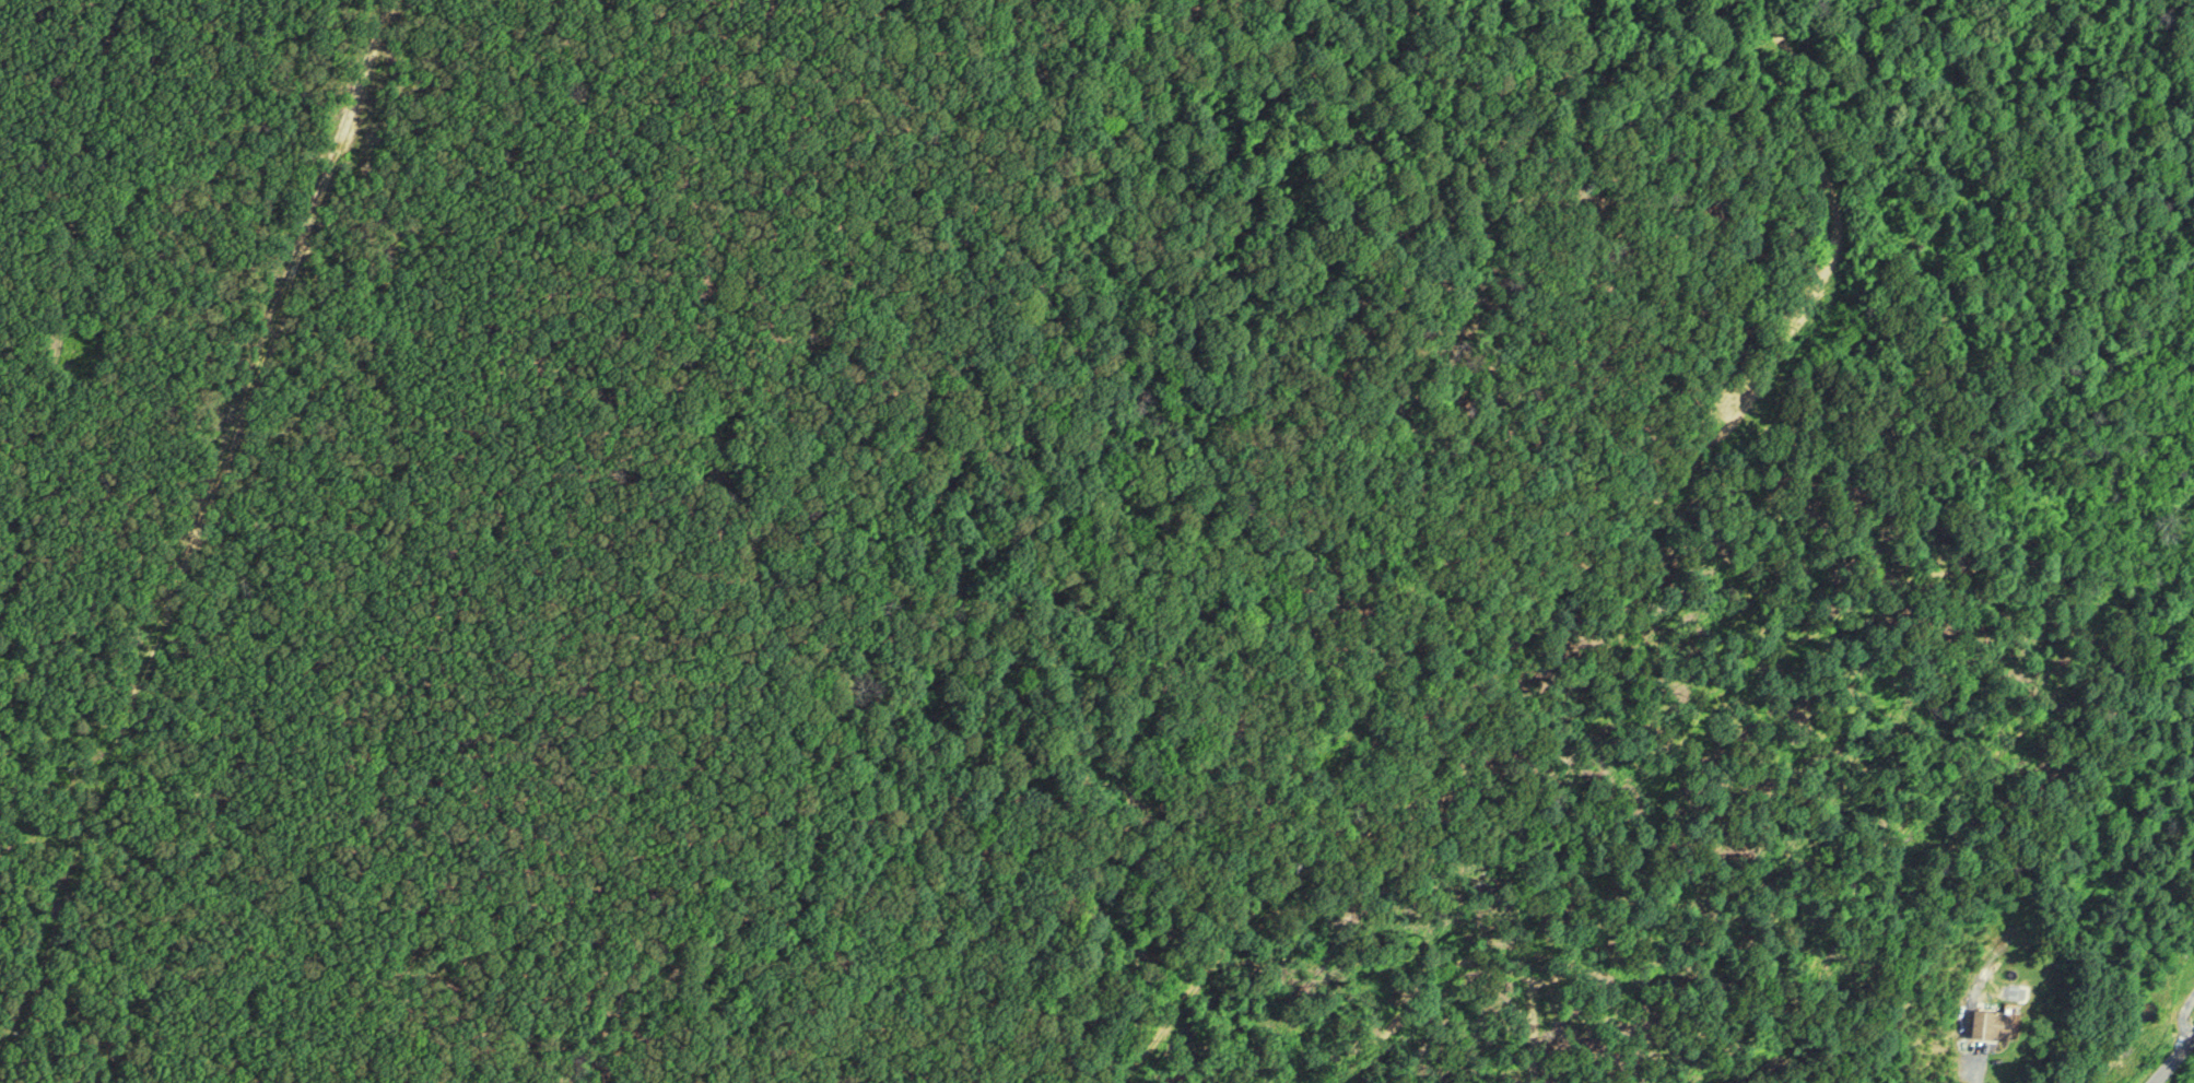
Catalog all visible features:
building: (2015, 953)
building: (1996, 1025)
road: (2160, 1041)

